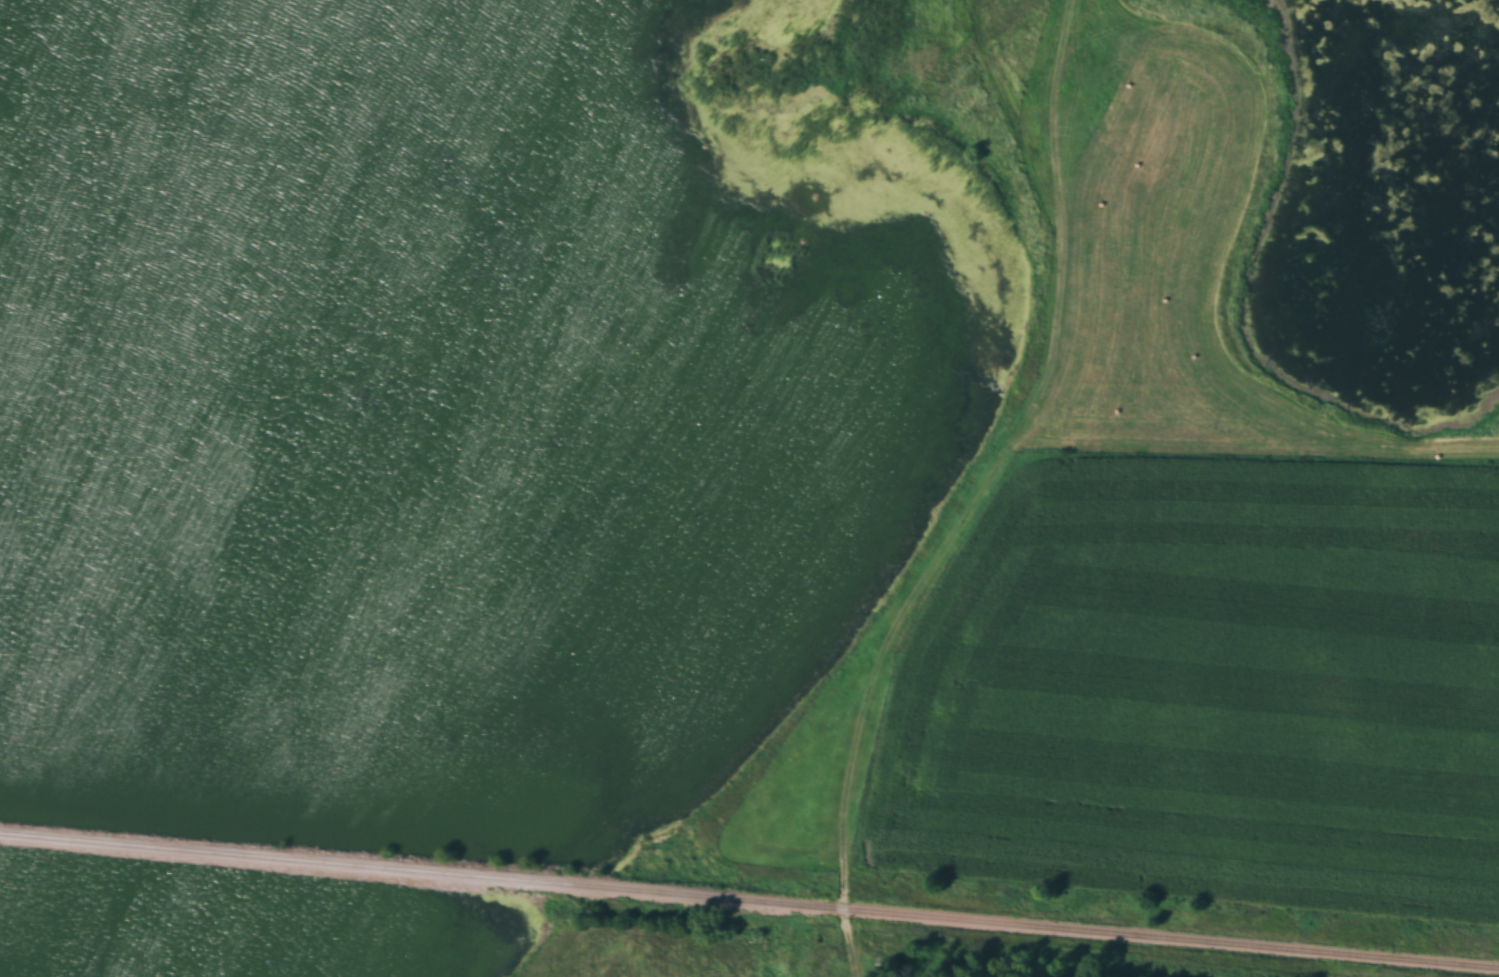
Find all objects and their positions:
building: (1154, 220)
building: (1155, 324)
railway: (749, 900)

